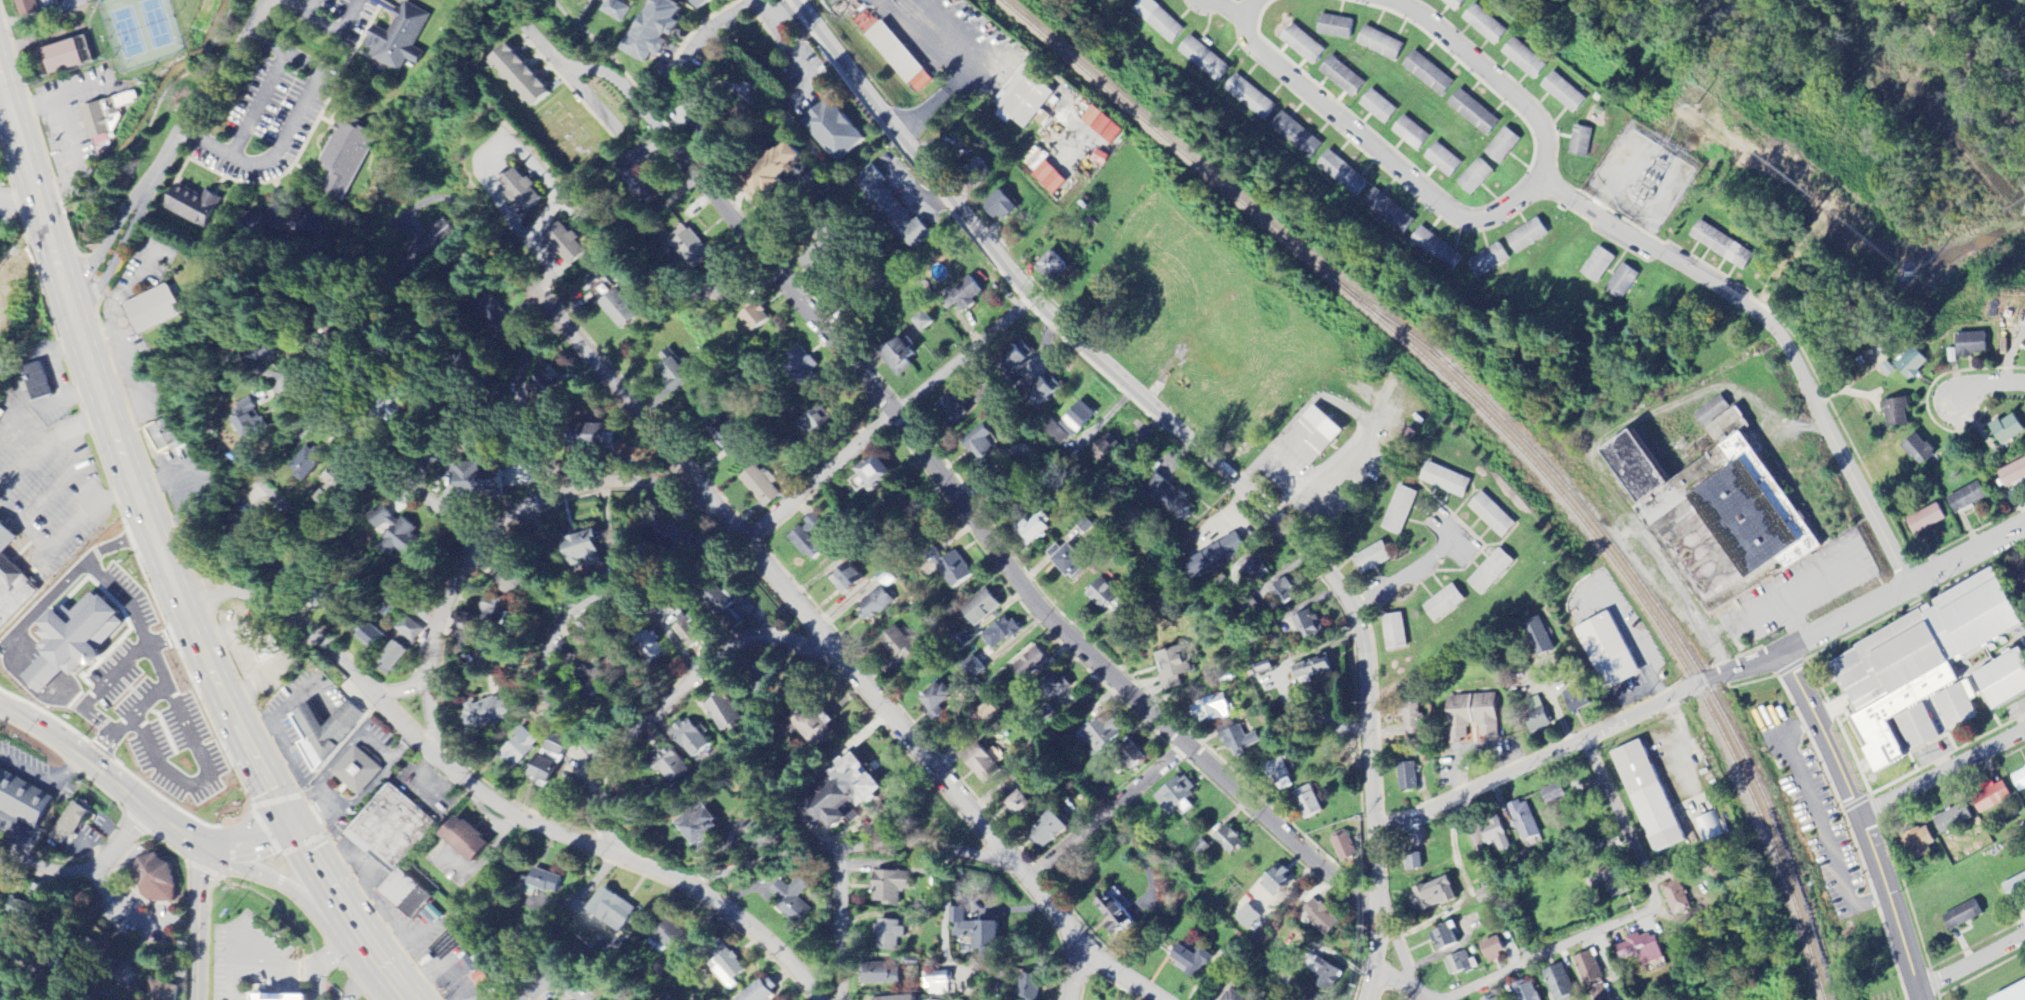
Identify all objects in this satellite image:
building: (704, 3)
building: (1454, 4)
building: (36, 7)
road: (1233, 8)
building: (615, 10)
road: (301, 11)
road: (781, 11)
building: (1159, 21)
road: (337, 24)
building: (1484, 25)
building: (1336, 27)
building: (660, 29)
park: (140, 31)
road: (578, 31)
road: (699, 35)
building: (400, 39)
park: (160, 41)
building: (1381, 44)
building: (1304, 45)
road: (791, 53)
building: (68, 58)
building: (900, 58)
building: (1204, 59)
building: (1524, 59)
road: (1962, 67)
road: (966, 71)
building: (1429, 74)
building: (525, 76)
building: (1344, 77)
road: (571, 78)
park: (1882, 88)
building: (1564, 93)
building: (1250, 98)
building: (1025, 100)
road: (258, 101)
building: (1379, 107)
road: (7, 111)
building: (1474, 113)
building: (105, 115)
road: (292, 124)
building: (1106, 125)
building: (836, 131)
building: (1411, 134)
building: (1297, 136)
building: (1582, 141)
building: (1503, 146)
road: (169, 151)
building: (346, 158)
building: (1444, 160)
road: (484, 161)
building: (780, 169)
building: (983, 169)
building: (1343, 174)
power substation: (1642, 175)
building: (1476, 177)
building: (1048, 178)
building: (643, 185)
building: (523, 191)
building: (194, 206)
building: (1003, 207)
building: (892, 209)
building: (1389, 212)
road: (1475, 220)
road: (967, 221)
building: (281, 224)
building: (1528, 236)
building: (565, 244)
building: (1724, 246)
building: (426, 247)
building: (693, 248)
building: (1436, 249)
building: (1489, 261)
building: (1598, 265)
building: (1055, 268)
building: (1622, 282)
building: (968, 294)
building: (620, 310)
building: (153, 311)
building: (758, 317)
building: (927, 321)
road: (1780, 335)
building: (1967, 344)
building: (1022, 355)
building: (904, 356)
building: (276, 359)
building: (804, 364)
building: (1908, 364)
building: (1886, 370)
building: (674, 372)
road: (455, 377)
road: (1988, 383)
building: (40, 384)
building: (549, 386)
building: (1047, 389)
road: (923, 392)
building: (405, 407)
building: (956, 409)
building: (1709, 411)
building: (1893, 412)
building: (252, 419)
building: (817, 423)
building: (1071, 424)
building: (2004, 429)
railway: (1503, 431)
building: (163, 435)
building: (1316, 436)
building: (600, 437)
building: (985, 447)
building: (1107, 450)
road: (1594, 450)
building: (1915, 450)
road: (375, 462)
building: (312, 464)
road: (1281, 469)
road: (1248, 470)
building: (2011, 473)
building: (879, 474)
building: (479, 479)
building: (1448, 480)
building: (336, 486)
building: (761, 487)
building: (1171, 497)
building: (1964, 498)
road: (954, 500)
road: (1282, 500)
building: (1715, 501)
building: (1400, 511)
building: (1495, 516)
building: (1923, 519)
road: (771, 521)
building: (1042, 530)
building: (245, 531)
building: (671, 536)
building: (401, 538)
building: (813, 541)
road: (483, 546)
road: (161, 549)
building: (1217, 555)
building: (1374, 558)
building: (1072, 562)
building: (957, 571)
building: (1255, 572)
building: (1493, 572)
road: (1406, 573)
building: (849, 579)
building: (2021, 579)
building: (12, 580)
building: (510, 582)
building: (1104, 593)
building: (1285, 594)
railway: (1648, 597)
building: (876, 603)
building: (1446, 604)
road: (1763, 604)
building: (984, 608)
building: (729, 610)
road: (1862, 610)
building: (495, 612)
road: (801, 616)
road: (566, 620)
building: (1310, 626)
road: (142, 627)
building: (411, 629)
building: (695, 633)
building: (1003, 633)
building: (1396, 633)
building: (84, 634)
road: (170, 636)
building: (373, 637)
building: (1535, 637)
building: (263, 644)
building: (899, 645)
building: (658, 646)
building: (1604, 651)
building: (400, 654)
building: (1022, 655)
building: (1915, 660)
road: (158, 664)
building: (1030, 665)
building: (1176, 667)
building: (976, 668)
building: (1315, 670)
road: (1367, 672)
building: (46, 675)
building: (2001, 679)
building: (1060, 685)
building: (940, 700)
building: (1574, 701)
road: (20, 704)
building: (1955, 706)
building: (1215, 709)
road: (660, 710)
building: (486, 713)
building: (727, 714)
building: (1534, 716)
building: (1470, 717)
building: (1414, 723)
building: (819, 727)
building: (1915, 727)
building: (326, 733)
building: (1104, 737)
building: (694, 739)
building: (1241, 740)
road: (227, 749)
building: (519, 749)
road: (107, 750)
road: (198, 750)
building: (1136, 755)
road: (1536, 762)
road: (1166, 764)
building: (984, 765)
building: (673, 766)
building: (358, 772)
building: (544, 772)
building: (1278, 772)
road: (1942, 772)
building: (1405, 777)
building: (2018, 779)
road: (44, 780)
building: (851, 793)
road: (1133, 793)
building: (1645, 796)
building: (1988, 796)
building: (1178, 797)
road: (140, 798)
road: (486, 798)
building: (24, 801)
building: (1308, 803)
building: (1026, 806)
building: (1950, 819)
traffic signals: (292, 820)
building: (1522, 821)
road: (1862, 822)
building: (71, 823)
building: (703, 827)
building: (1708, 827)
building: (393, 830)
building: (1053, 830)
road: (16, 834)
building: (1492, 834)
building: (471, 841)
building: (1232, 842)
building: (1916, 842)
building: (1341, 847)
road: (929, 848)
road: (1069, 848)
road: (139, 854)
road: (759, 866)
road: (87, 867)
building: (157, 880)
building: (1272, 880)
road: (1495, 880)
building: (544, 881)
building: (893, 887)
building: (2014, 887)
building: (409, 895)
building: (1430, 895)
building: (1674, 897)
building: (792, 899)
road: (316, 907)
building: (615, 910)
building: (1116, 913)
road: (1633, 916)
building: (1959, 916)
building: (1318, 917)
building: (1244, 918)
road: (198, 919)
road: (841, 924)
building: (890, 935)
building: (673, 936)
building: (993, 936)
building: (1441, 937)
building: (1488, 948)
building: (1638, 950)
road: (330, 953)
building: (1189, 961)
building: (474, 963)
building: (1456, 964)
road: (1972, 964)
road: (258, 968)
building: (731, 968)
road: (1074, 969)
road: (38, 974)
building: (1321, 974)
building: (886, 976)
building: (1591, 976)
building: (483, 978)
road: (1408, 981)
park: (1992, 982)
building: (1557, 983)
road: (316, 984)
building: (942, 984)
road: (614, 987)
building: (1030, 989)
building: (160, 991)
building: (764, 992)
building: (1523, 992)
building: (2010, 993)
building: (1227, 996)
building: (285, 998)
building: (1487, 998)
building: (904, 999)
building: (1310, 999)

